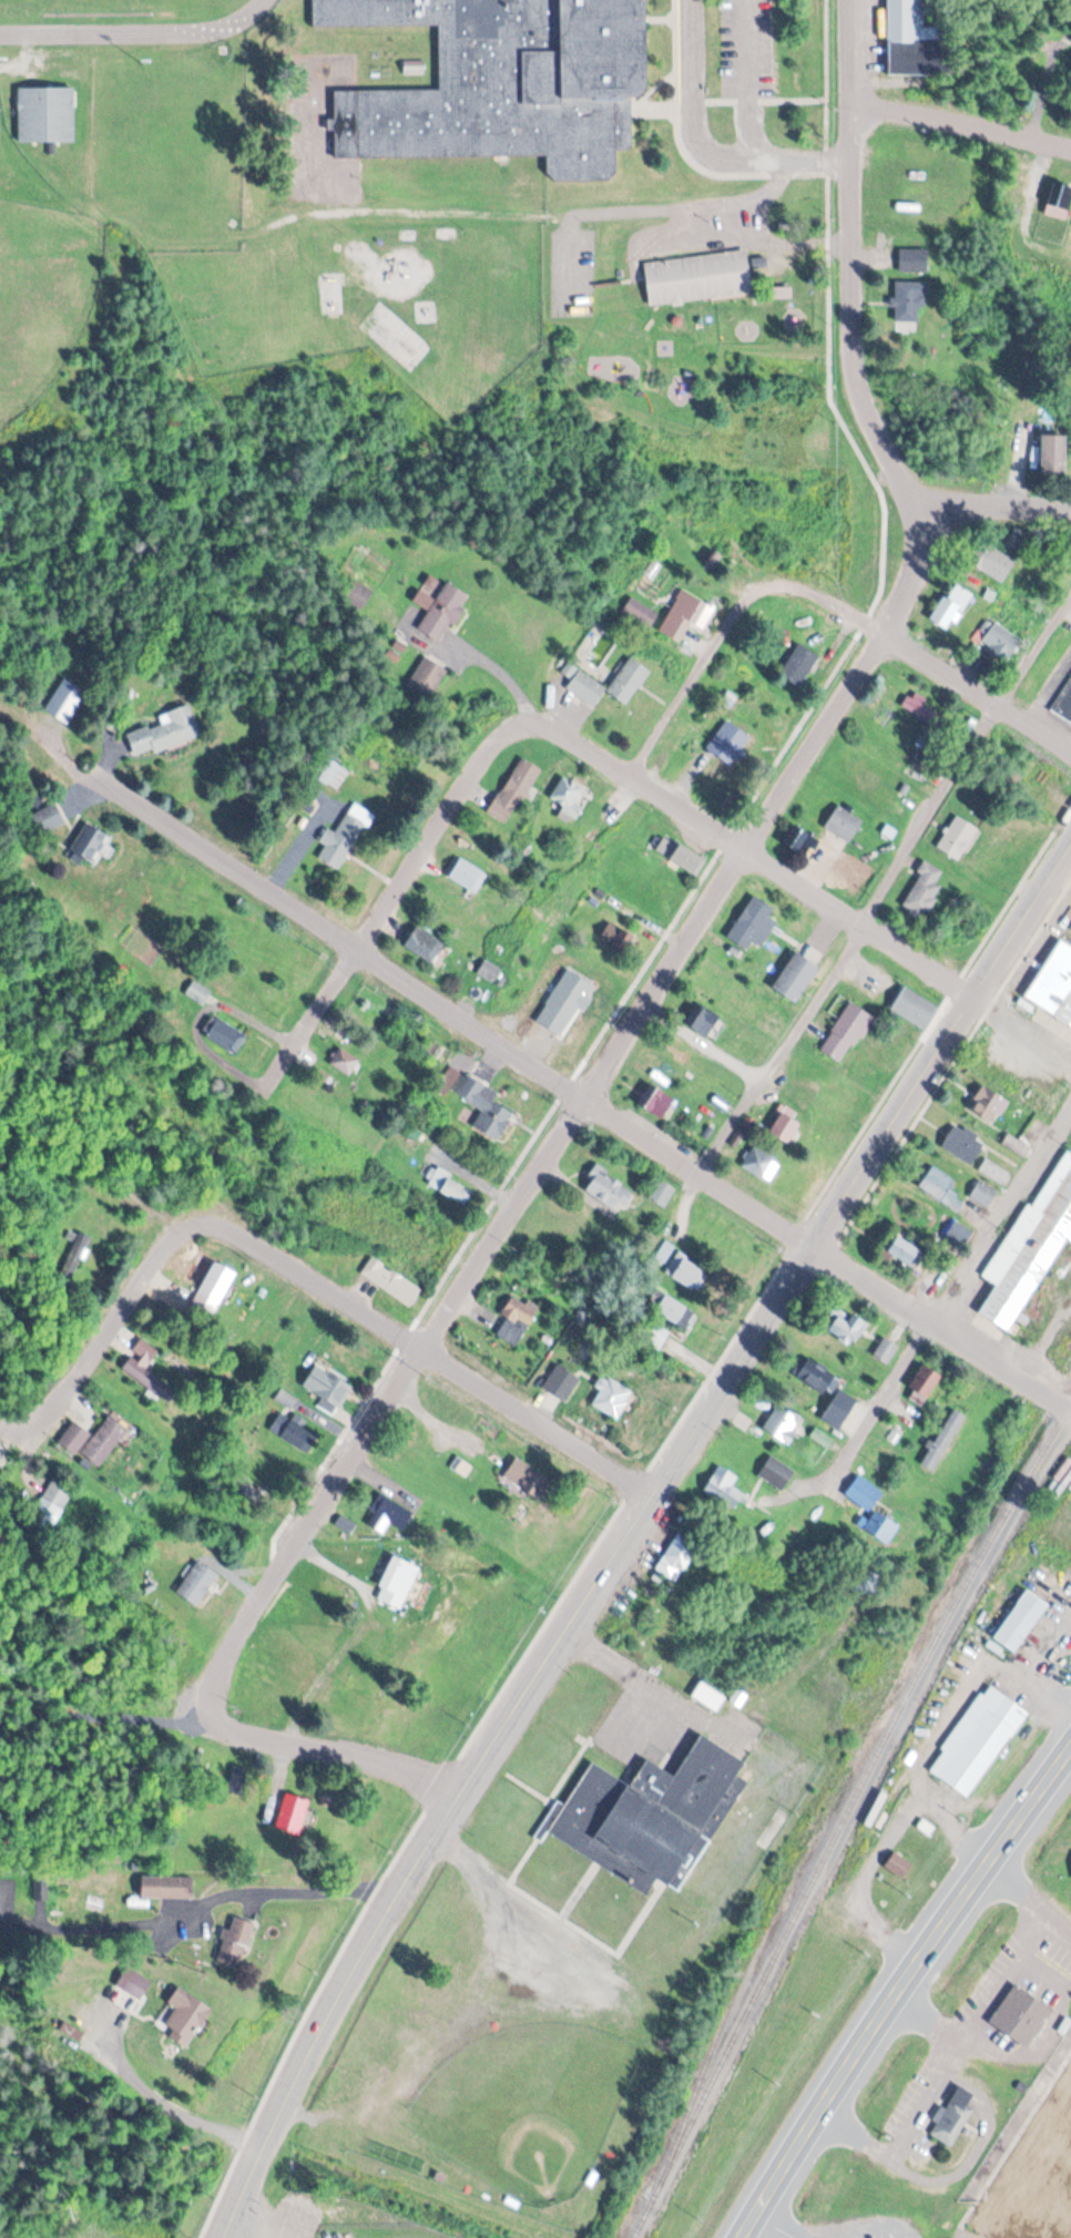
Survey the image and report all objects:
park: (105, 3)
track: (136, 28)
building: (915, 41)
building: (508, 83)
building: (45, 115)
road: (959, 126)
road: (698, 144)
road: (844, 163)
building: (1060, 205)
road: (850, 259)
building: (914, 260)
building: (714, 277)
park: (43, 294)
building: (909, 302)
building: (1054, 454)
road: (992, 505)
building: (997, 563)
building: (358, 595)
building: (952, 607)
building: (440, 611)
building: (640, 614)
building: (685, 617)
building: (1000, 644)
road: (928, 662)
building: (799, 665)
road: (700, 675)
building: (427, 678)
building: (629, 682)
building: (585, 689)
building: (1064, 701)
building: (65, 702)
building: (927, 715)
building: (165, 733)
road: (578, 747)
building: (334, 775)
building: (514, 791)
building: (568, 796)
building: (48, 819)
building: (844, 824)
building: (958, 838)
building: (340, 841)
building: (89, 844)
building: (804, 845)
building: (680, 856)
building: (468, 876)
road: (887, 887)
building: (925, 891)
road: (386, 902)
road: (851, 920)
building: (753, 924)
building: (422, 944)
building: (490, 969)
building: (796, 979)
building: (1054, 982)
building: (198, 992)
building: (914, 1009)
building: (705, 1023)
building: (224, 1034)
building: (847, 1034)
building: (345, 1062)
road: (579, 1097)
road: (580, 1097)
building: (659, 1103)
building: (988, 1105)
building: (486, 1107)
building: (785, 1126)
building: (963, 1145)
building: (1017, 1145)
building: (755, 1161)
building: (994, 1172)
building: (449, 1186)
building: (939, 1186)
building: (609, 1188)
building: (662, 1193)
building: (983, 1194)
building: (958, 1236)
building: (1032, 1245)
building: (907, 1250)
building: (75, 1255)
building: (686, 1271)
building: (390, 1281)
road: (950, 1292)
building: (211, 1294)
road: (336, 1294)
building: (673, 1311)
building: (514, 1322)
building: (845, 1326)
road: (102, 1340)
building: (886, 1350)
building: (146, 1368)
building: (817, 1376)
building: (560, 1382)
building: (327, 1384)
building: (926, 1387)
building: (612, 1396)
building: (839, 1409)
road: (330, 1423)
building: (783, 1424)
building: (294, 1432)
building: (94, 1440)
building: (940, 1443)
building: (776, 1473)
building: (523, 1476)
building: (725, 1489)
building: (864, 1493)
building: (44, 1515)
building: (387, 1515)
road: (629, 1531)
building: (677, 1557)
building: (197, 1583)
building: (398, 1583)
building: (1020, 1619)
road: (1030, 1670)
building: (708, 1696)
road: (103, 1715)
building: (979, 1738)
road: (319, 1748)
building: (293, 1812)
building: (649, 1812)
railway: (845, 1817)
building: (897, 1860)
building: (166, 1887)
road: (283, 1888)
building: (235, 1939)
road: (900, 1990)
building: (187, 2014)
building: (1020, 2014)
road: (930, 2021)
building: (91, 2022)
road: (969, 2037)
railway: (708, 2055)
road: (154, 2095)
park: (530, 2102)
building: (952, 2114)
road: (773, 2226)

